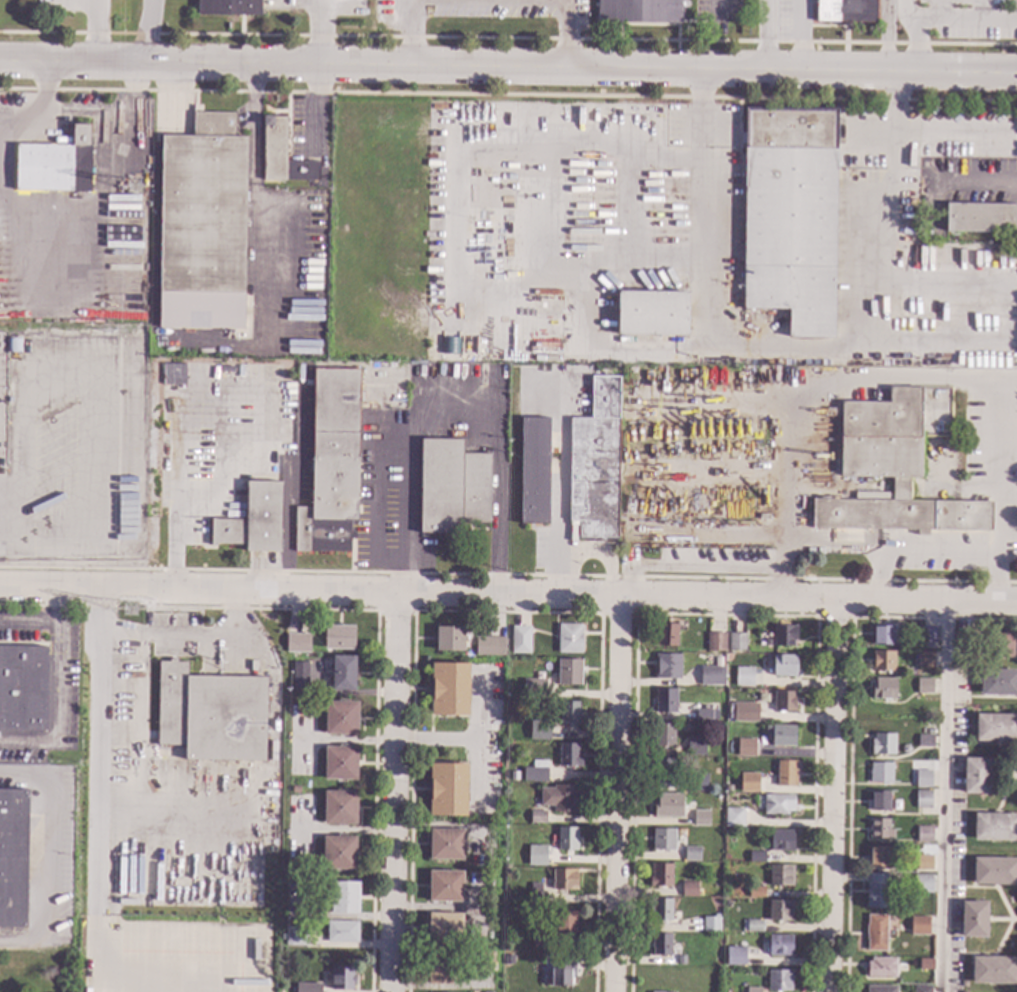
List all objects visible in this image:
road: (491, 4)
building: (229, 7)
building: (639, 11)
building: (846, 11)
road: (95, 31)
road: (149, 32)
road: (315, 32)
road: (766, 35)
road: (800, 35)
road: (914, 35)
road: (885, 36)
road: (508, 68)
building: (274, 149)
road: (0, 156)
building: (55, 165)
power tower: (134, 187)
building: (790, 216)
building: (982, 219)
building: (202, 226)
building: (651, 313)
building: (13, 345)
building: (173, 374)
road: (819, 388)
road: (458, 417)
road: (1008, 453)
building: (331, 464)
building: (594, 465)
building: (895, 466)
building: (534, 471)
building: (451, 487)
building: (252, 520)
road: (558, 522)
road: (997, 540)
road: (690, 568)
road: (778, 575)
road: (996, 579)
road: (508, 598)
power tower: (132, 610)
road: (42, 626)
building: (927, 634)
building: (667, 635)
building: (784, 635)
building: (883, 635)
building: (339, 638)
building: (449, 639)
building: (569, 639)
building: (963, 639)
building: (520, 640)
building: (715, 642)
building: (736, 642)
road: (182, 643)
building: (297, 643)
building: (1004, 645)
building: (491, 654)
building: (924, 659)
building: (883, 661)
building: (297, 662)
building: (783, 666)
building: (667, 667)
building: (569, 672)
building: (342, 673)
building: (712, 676)
building: (752, 678)
building: (998, 682)
building: (922, 686)
building: (22, 688)
building: (883, 689)
building: (293, 690)
building: (449, 690)
building: (539, 691)
building: (665, 701)
building: (784, 701)
road: (63, 708)
building: (920, 708)
building: (744, 712)
building: (569, 713)
building: (210, 715)
building: (704, 715)
building: (340, 719)
building: (995, 728)
building: (542, 732)
building: (663, 735)
building: (781, 735)
road: (482, 738)
road: (435, 740)
building: (925, 741)
building: (883, 744)
road: (99, 745)
building: (693, 747)
building: (746, 748)
building: (906, 749)
building: (568, 755)
building: (340, 763)
building: (663, 770)
building: (717, 770)
building: (535, 772)
building: (880, 773)
building: (785, 775)
building: (976, 776)
building: (514, 778)
building: (923, 779)
building: (695, 783)
building: (756, 783)
building: (296, 789)
building: (447, 790)
road: (388, 794)
road: (617, 795)
road: (838, 796)
road: (946, 797)
building: (560, 798)
building: (923, 800)
building: (878, 801)
building: (777, 804)
building: (668, 806)
building: (339, 808)
building: (537, 817)
building: (701, 818)
building: (730, 820)
building: (995, 827)
building: (879, 829)
building: (924, 835)
building: (566, 839)
building: (662, 840)
building: (781, 840)
building: (446, 845)
building: (338, 853)
building: (692, 854)
building: (13, 857)
building: (757, 857)
building: (878, 857)
building: (534, 858)
road: (44, 859)
building: (923, 862)
building: (995, 871)
building: (660, 875)
building: (781, 876)
building: (564, 879)
building: (923, 884)
building: (445, 887)
building: (688, 889)
building: (877, 891)
building: (756, 892)
building: (536, 895)
building: (344, 899)
building: (660, 910)
building: (780, 911)
building: (716, 916)
building: (974, 919)
building: (565, 923)
building: (711, 925)
building: (751, 926)
building: (919, 926)
building: (444, 928)
building: (341, 932)
building: (876, 933)
building: (280, 934)
building: (296, 937)
building: (541, 941)
building: (661, 945)
building: (779, 945)
building: (504, 958)
building: (731, 959)
building: (483, 961)
building: (926, 965)
building: (439, 968)
building: (881, 968)
building: (993, 970)
building: (562, 973)
building: (342, 979)
building: (779, 981)
building: (963, 984)
building: (922, 988)
building: (880, 989)
building: (314, 990)
building: (752, 990)

